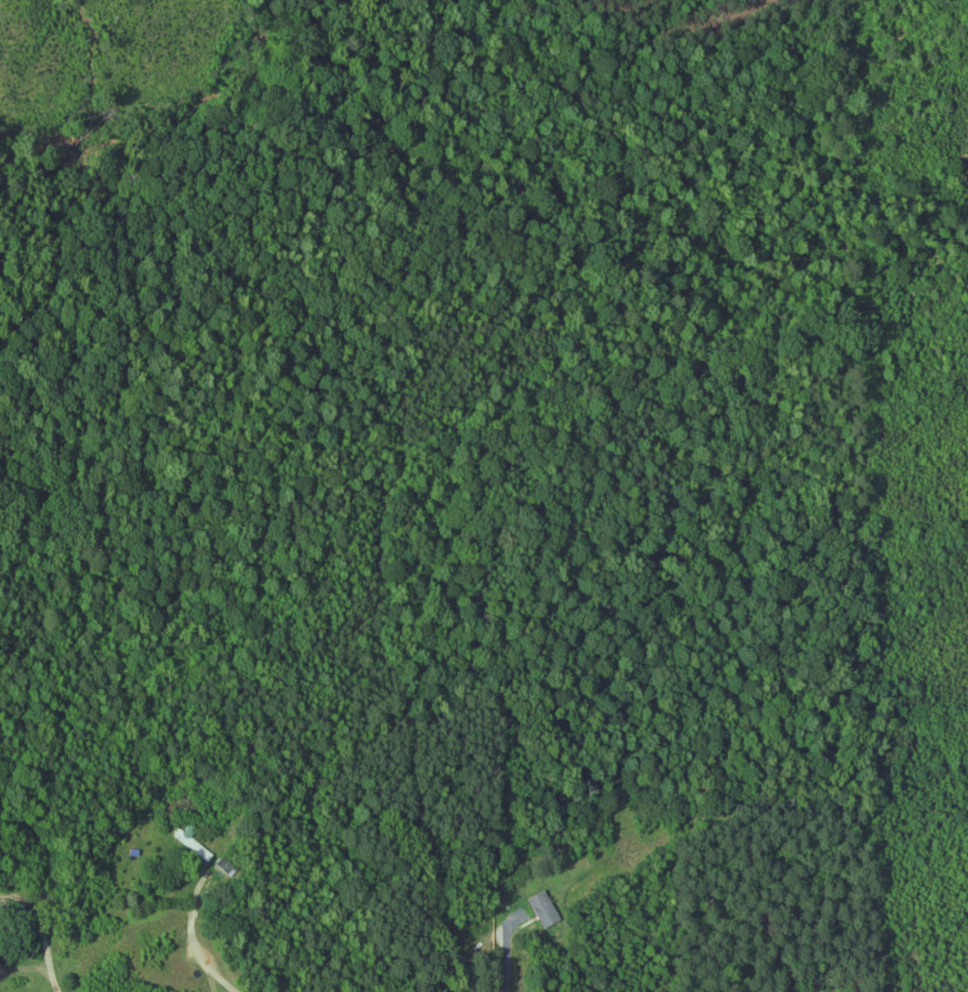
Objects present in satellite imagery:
building: (196, 847)
building: (228, 867)
building: (547, 910)
building: (2, 917)
road: (16, 957)

